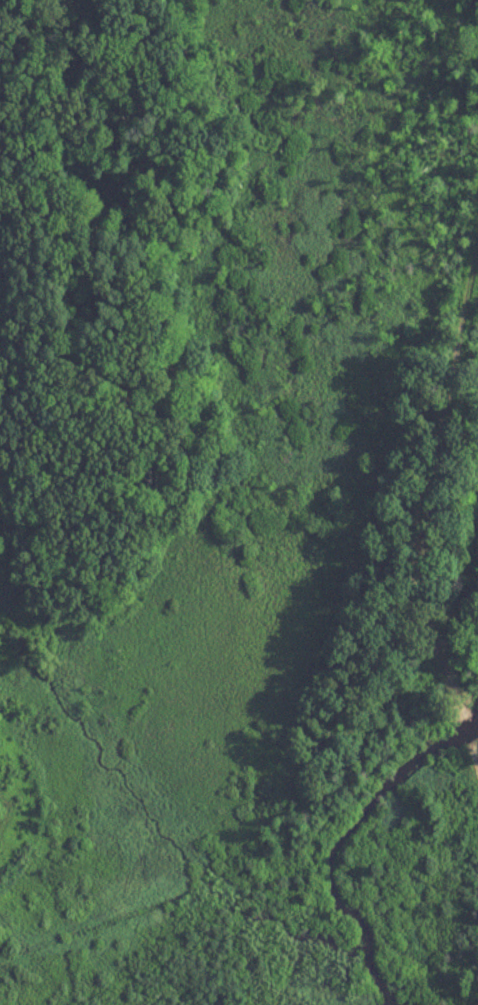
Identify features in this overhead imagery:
road: (428, 476)
park: (239, 502)
building: (465, 729)
road: (465, 730)
road: (473, 757)
river: (341, 838)

